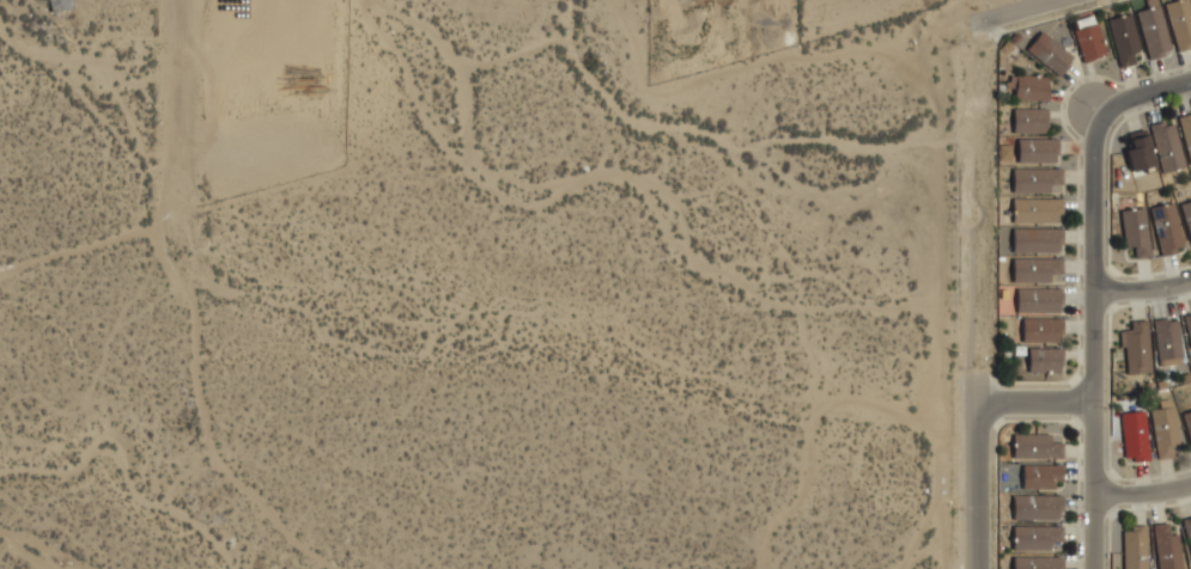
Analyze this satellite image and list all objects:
road: (1044, 1)
building: (59, 5)
building: (1179, 23)
building: (1153, 31)
building: (1088, 38)
building: (1123, 39)
building: (1049, 54)
building: (1028, 87)
road: (1142, 94)
building: (1029, 121)
road: (170, 123)
building: (1186, 131)
building: (1167, 146)
building: (1037, 151)
building: (1138, 151)
building: (1034, 179)
building: (1037, 210)
building: (1186, 216)
building: (1166, 228)
building: (1135, 231)
building: (1037, 240)
building: (1034, 269)
road: (1142, 290)
building: (1038, 300)
building: (1187, 328)
building: (1041, 330)
road: (1093, 338)
building: (1167, 342)
building: (1135, 347)
building: (1044, 360)
road: (1029, 405)
building: (1187, 423)
building: (1163, 428)
building: (1134, 435)
building: (1035, 446)
building: (1040, 476)
road: (970, 489)
road: (1147, 497)
building: (1035, 507)
building: (1187, 530)
building: (1035, 537)
building: (1135, 547)
building: (1166, 547)
building: (1037, 563)

